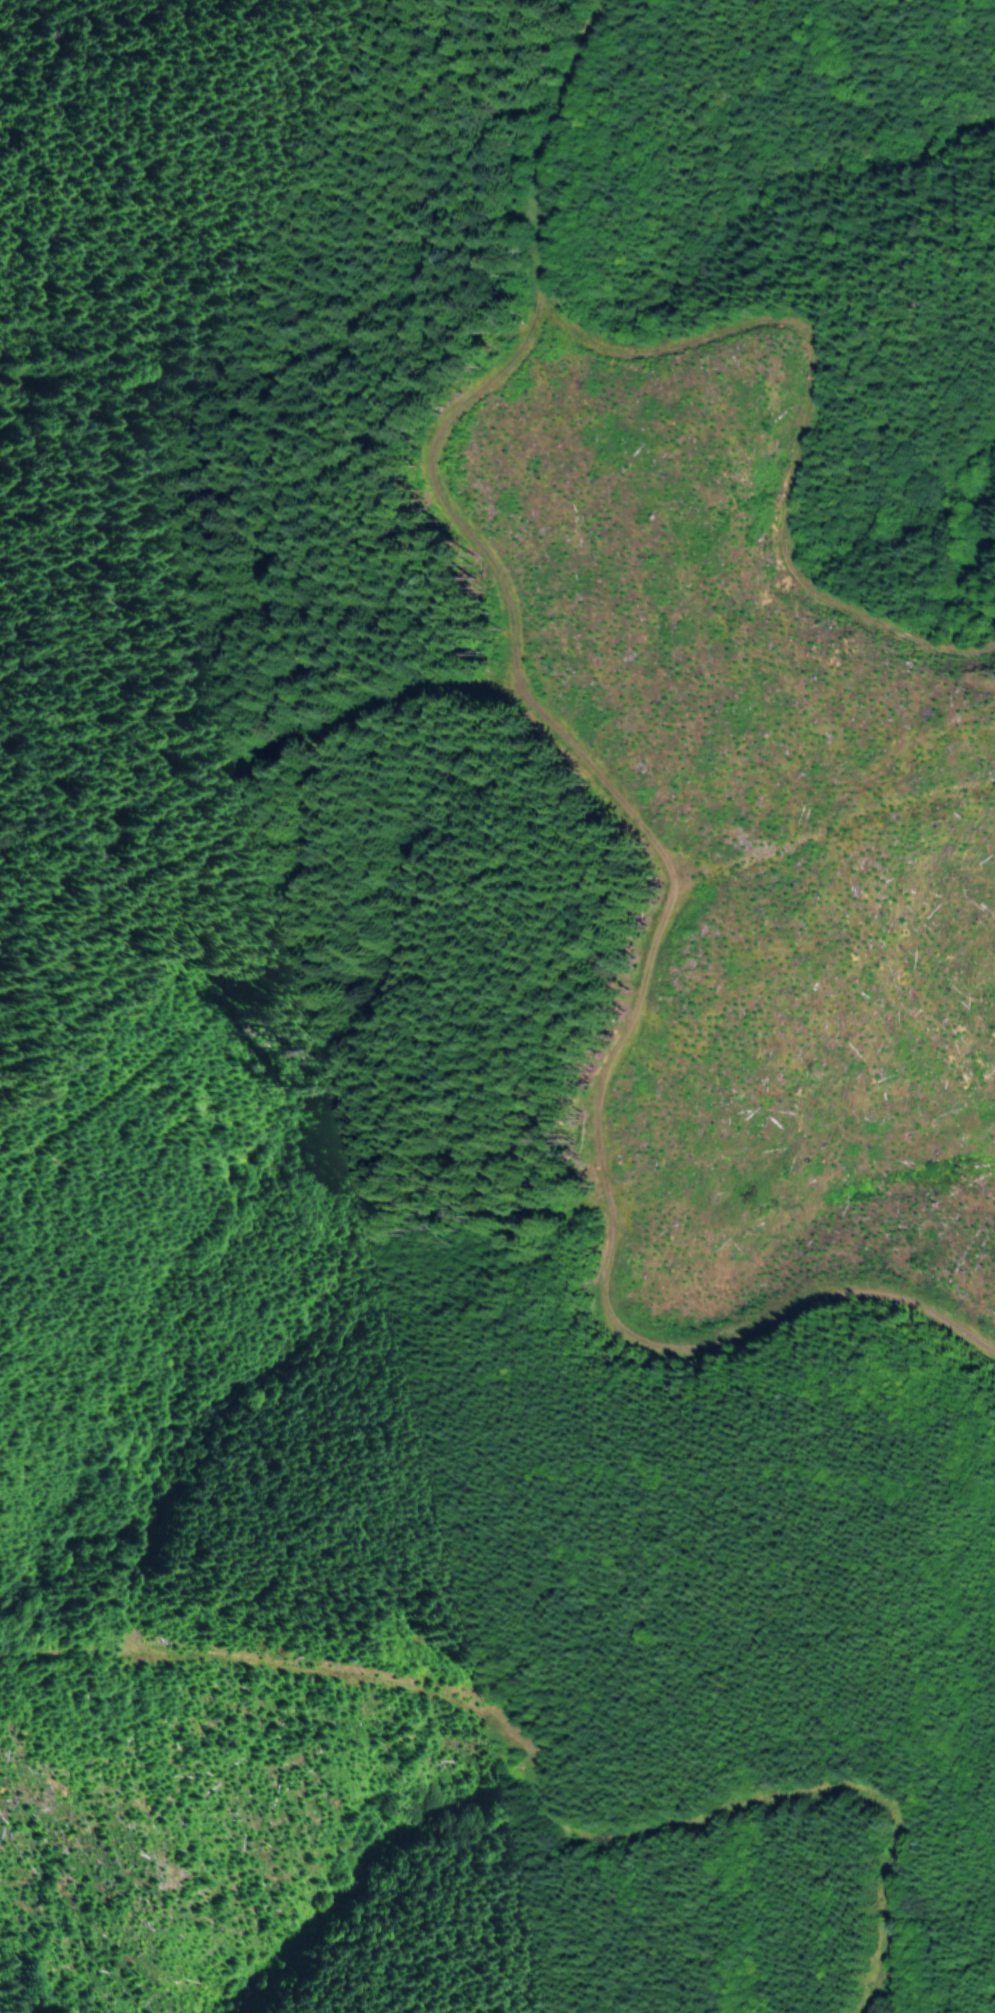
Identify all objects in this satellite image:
road: (733, 363)

